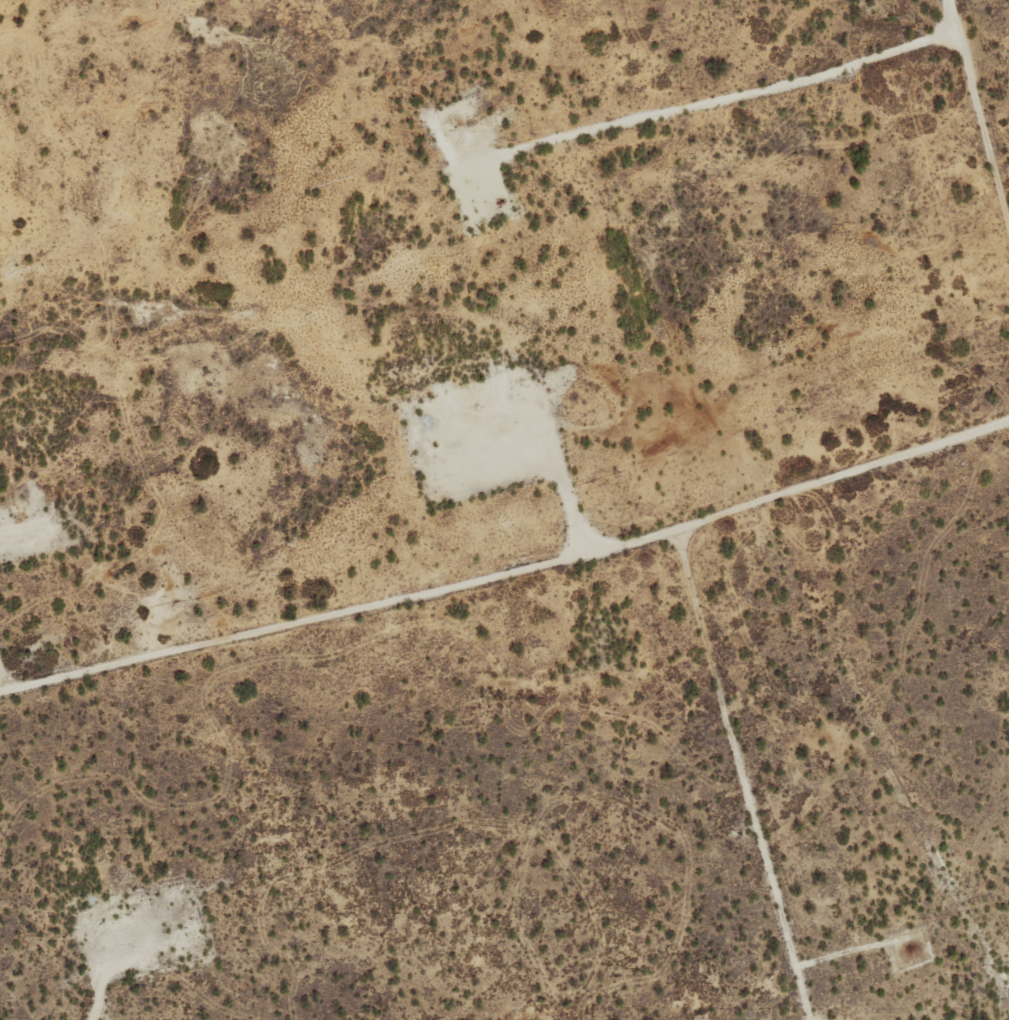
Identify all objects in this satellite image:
road: (727, 99)
road: (980, 114)
road: (508, 567)

